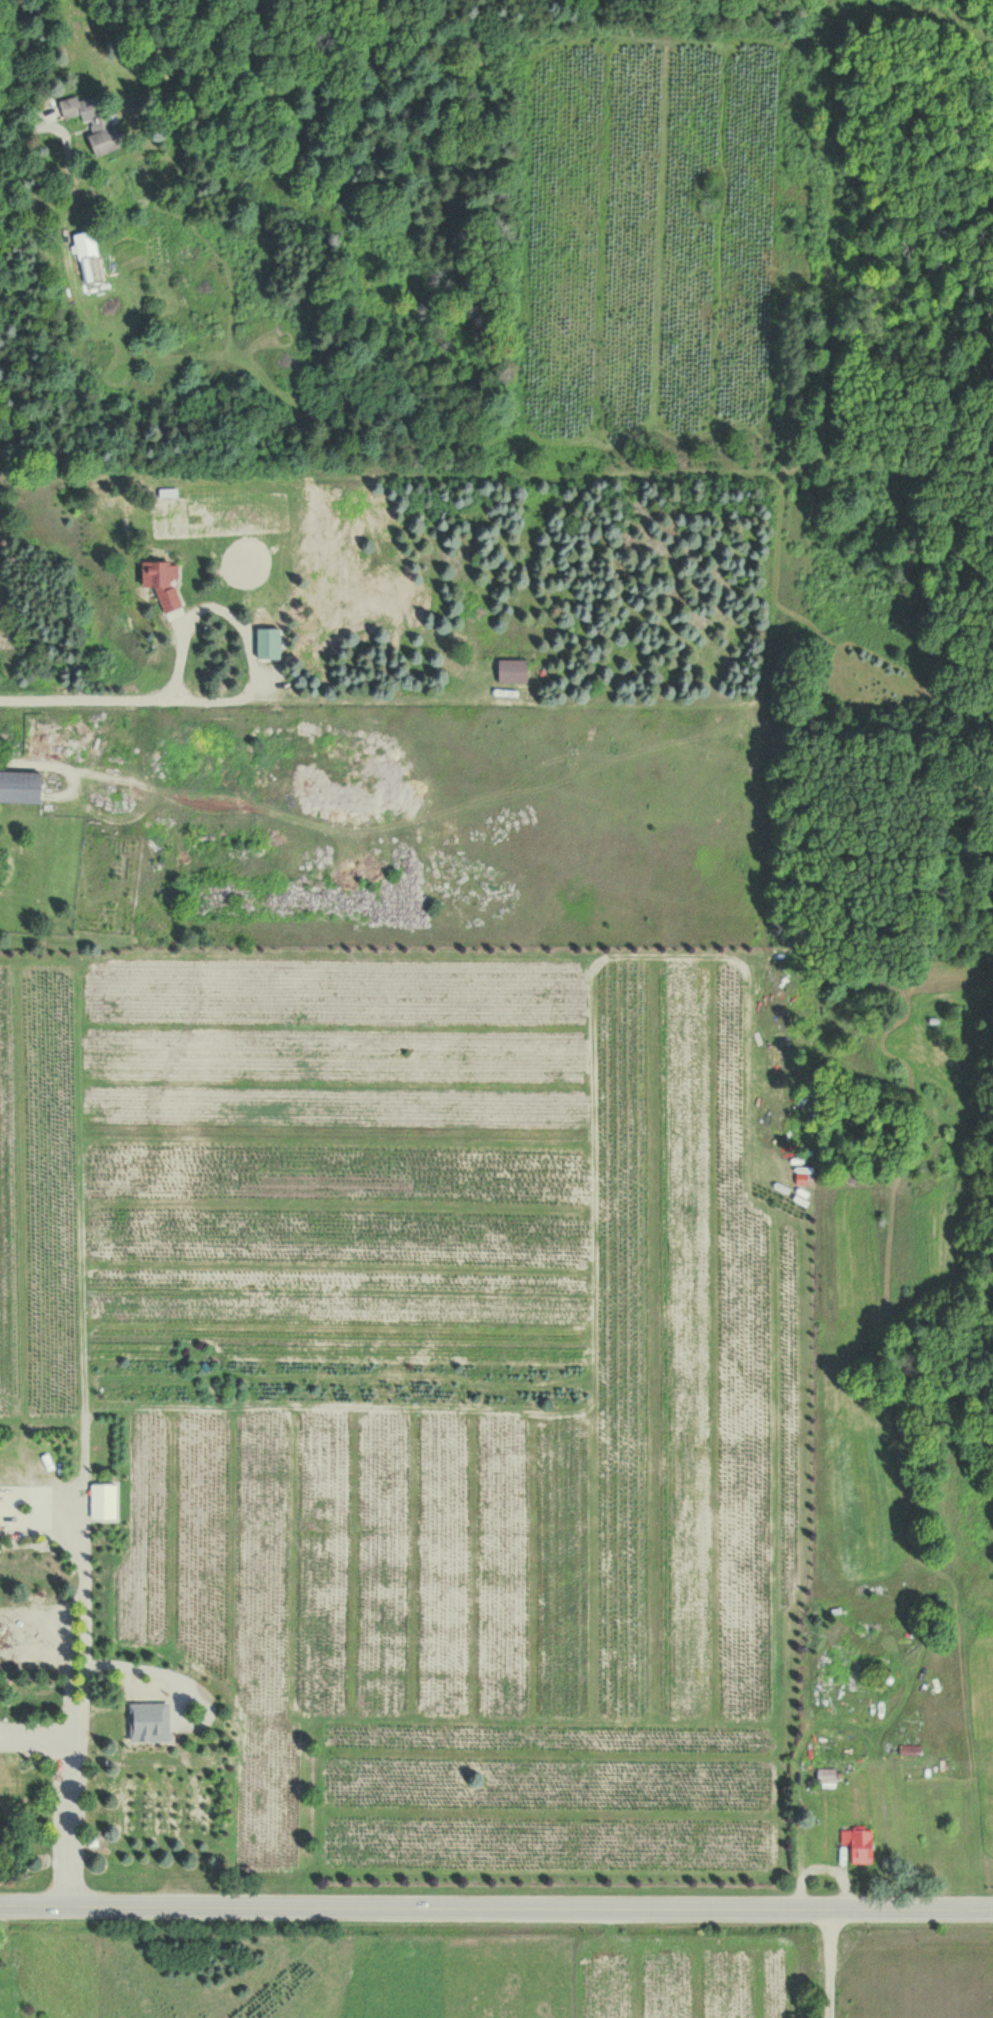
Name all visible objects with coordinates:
building: (91, 120)
building: (89, 257)
building: (163, 583)
building: (269, 645)
building: (513, 672)
road: (94, 754)
building: (21, 787)
building: (104, 1502)
building: (152, 1726)
building: (910, 1750)
building: (827, 1778)
building: (860, 1845)
road: (496, 1907)

